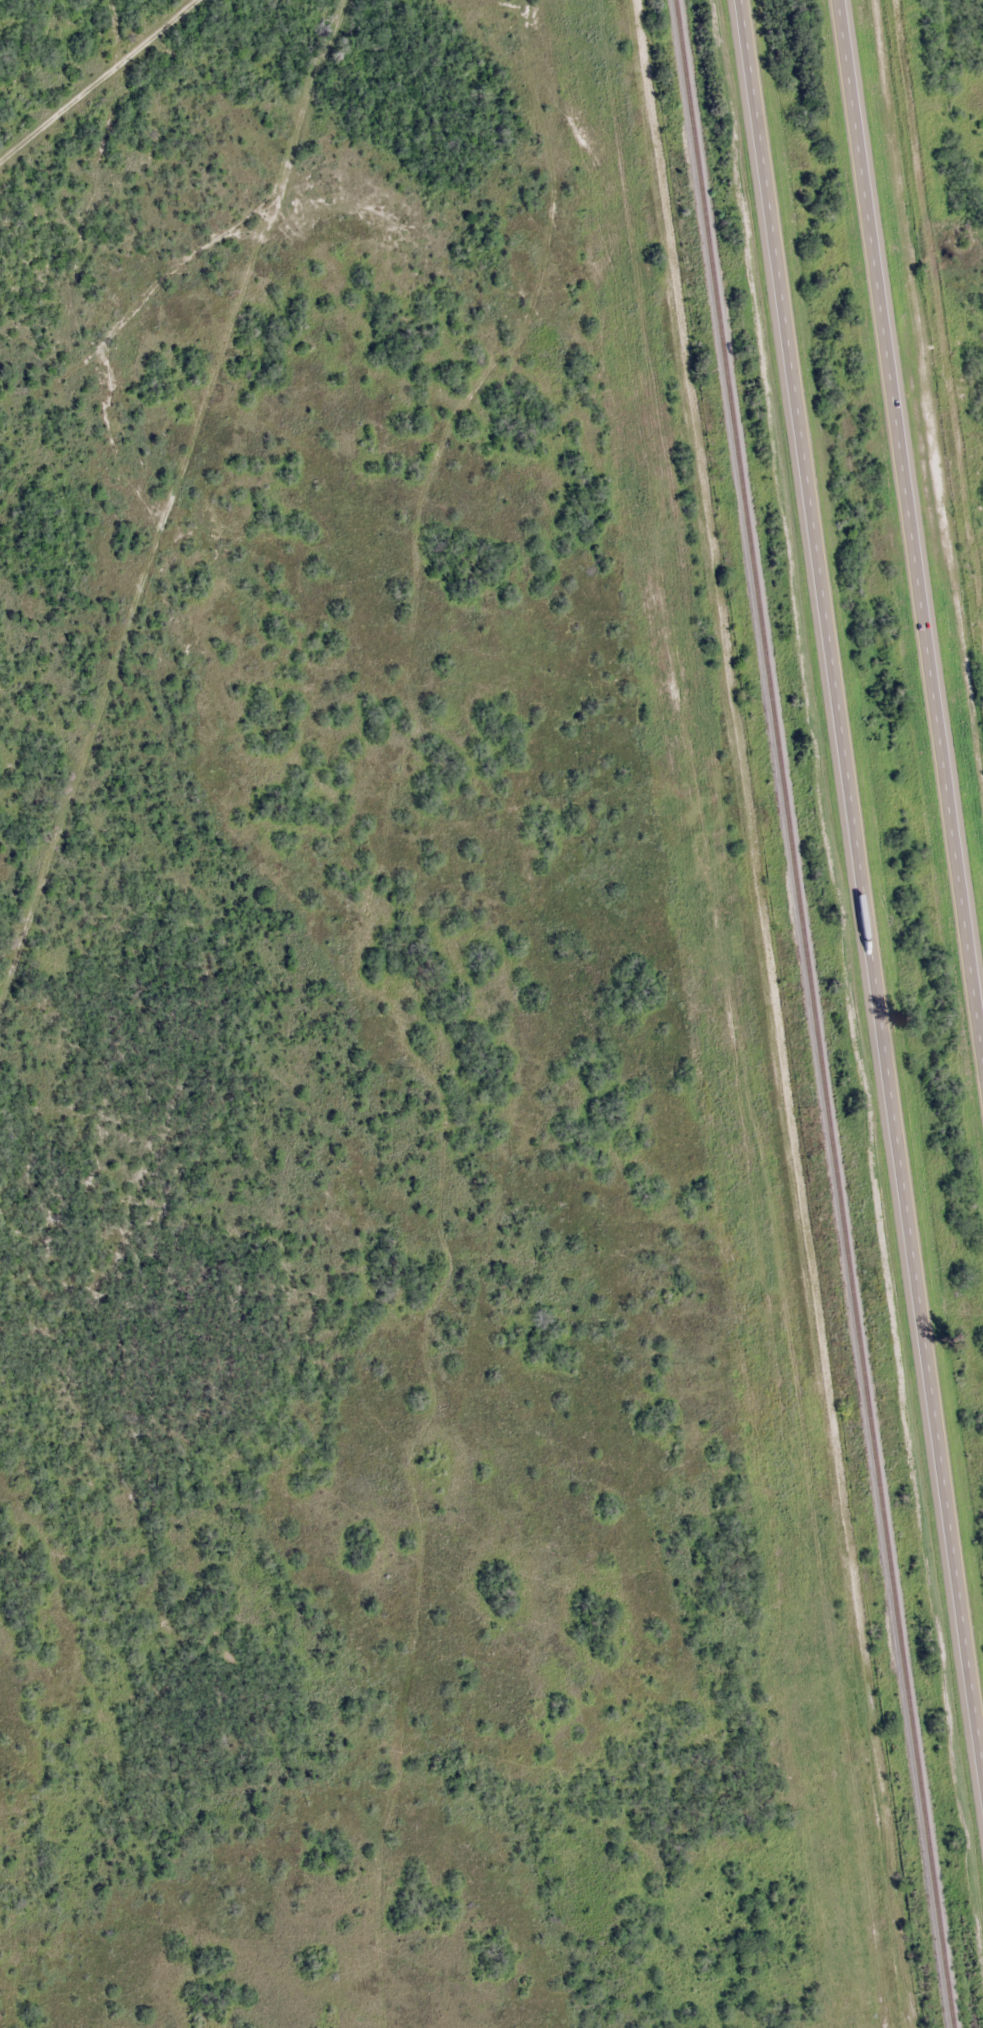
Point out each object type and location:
road: (86, 65)
road: (911, 517)
road: (863, 883)
railway: (813, 1014)

